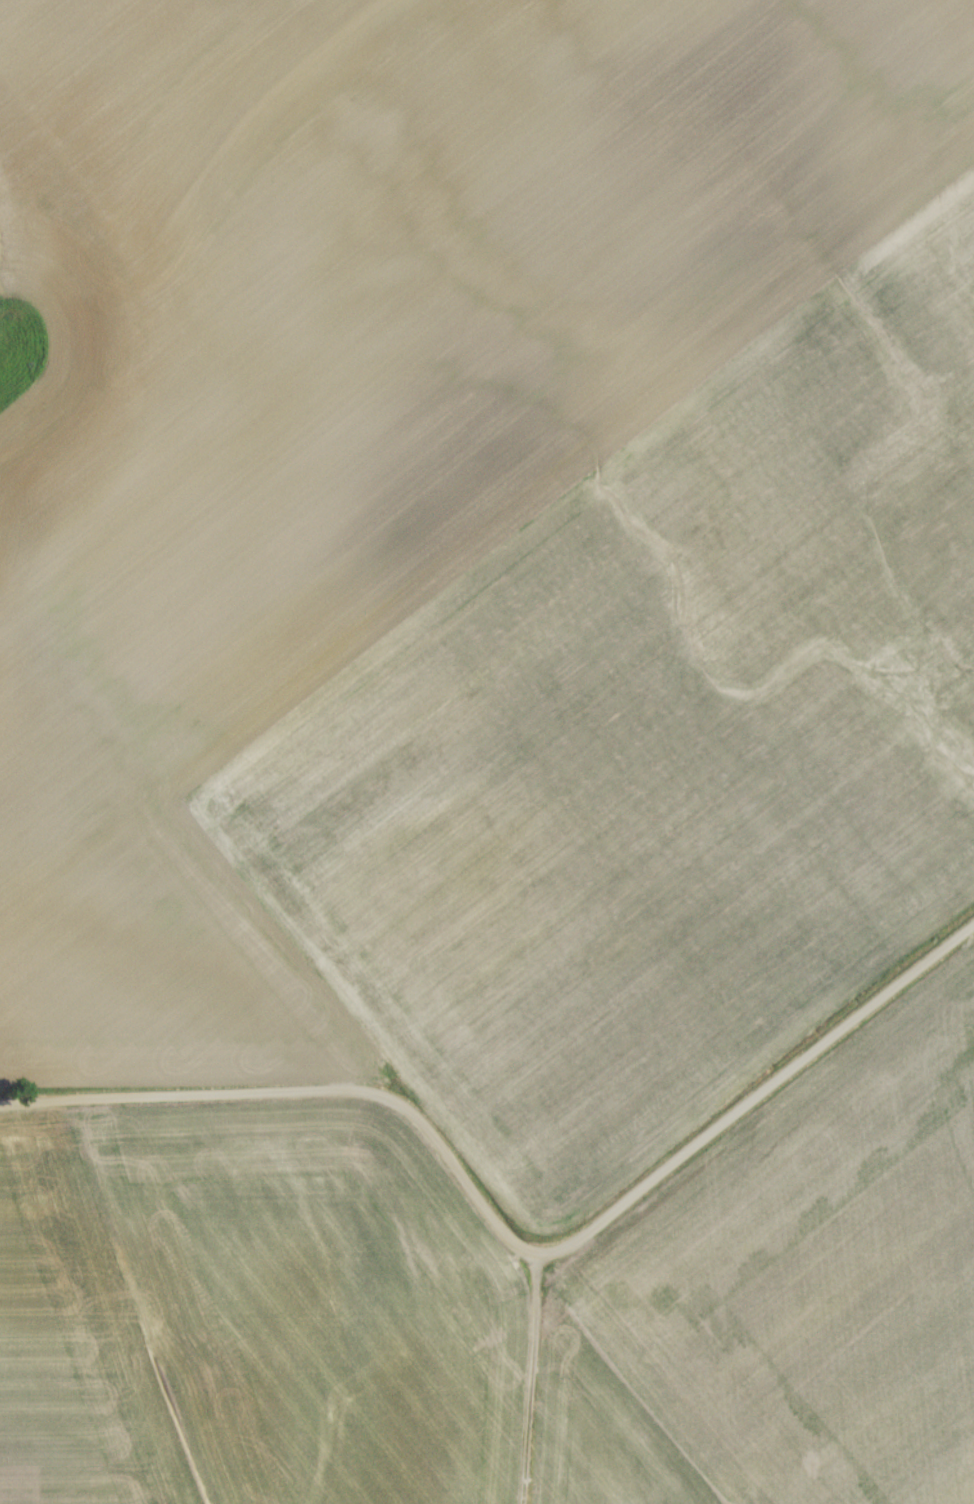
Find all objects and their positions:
road: (512, 1227)
road: (492, 1365)

